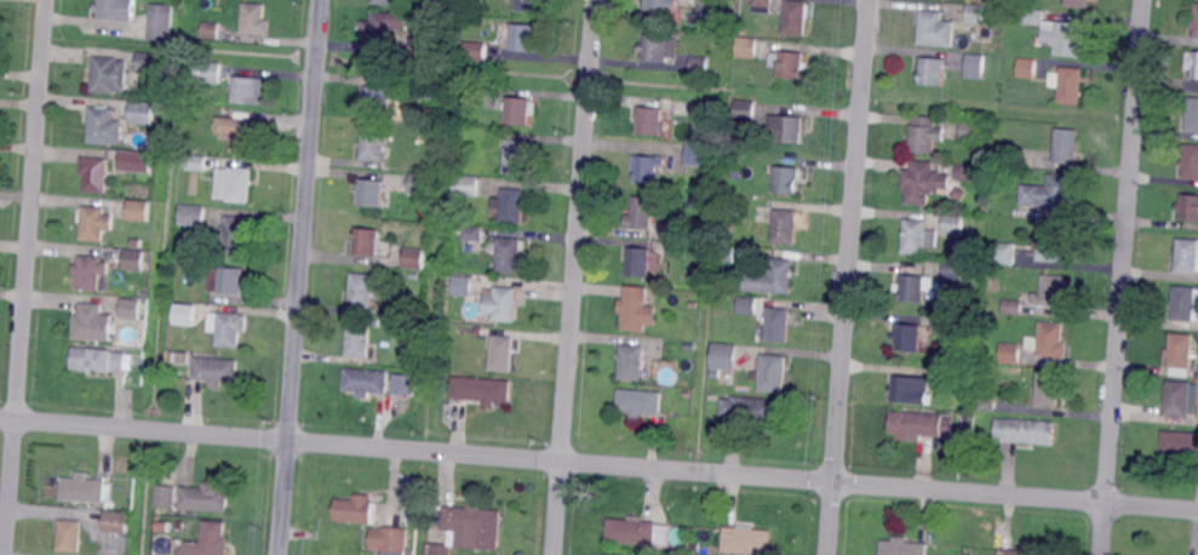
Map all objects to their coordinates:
building: (388, 1)
building: (1077, 4)
building: (529, 5)
building: (763, 6)
building: (709, 7)
building: (116, 10)
building: (660, 10)
building: (976, 15)
building: (797, 17)
building: (1033, 17)
building: (254, 19)
building: (1196, 22)
building: (161, 23)
building: (938, 29)
building: (210, 30)
building: (380, 34)
building: (1065, 38)
building: (526, 39)
building: (426, 47)
building: (661, 48)
building: (749, 50)
building: (475, 51)
building: (1193, 62)
building: (701, 64)
building: (149, 65)
building: (793, 65)
building: (976, 65)
building: (1028, 68)
building: (934, 71)
building: (208, 73)
building: (110, 75)
building: (1072, 85)
building: (247, 90)
building: (426, 91)
building: (380, 99)
building: (521, 109)
building: (746, 111)
building: (142, 113)
building: (1193, 115)
building: (652, 121)
building: (104, 127)
building: (791, 127)
building: (739, 131)
building: (971, 131)
building: (987, 131)
building: (242, 133)
building: (928, 133)
building: (374, 143)
building: (1067, 147)
building: (699, 154)
building: (518, 156)
building: (1025, 160)
building: (1191, 161)
building: (142, 162)
building: (195, 162)
building: (649, 168)
building: (968, 173)
building: (94, 176)
building: (790, 179)
building: (923, 183)
building: (420, 184)
building: (234, 185)
building: (468, 187)
building: (373, 191)
building: (959, 194)
building: (1053, 194)
building: (515, 206)
building: (1188, 208)
building: (139, 211)
building: (193, 214)
building: (642, 214)
building: (94, 223)
building: (955, 223)
building: (787, 225)
road: (849, 229)
building: (686, 230)
building: (472, 234)
building: (237, 236)
building: (919, 236)
building: (138, 242)
building: (367, 242)
building: (1059, 244)
building: (678, 248)
building: (511, 253)
building: (727, 253)
building: (1004, 254)
building: (1188, 258)
building: (414, 259)
building: (134, 261)
building: (640, 261)
building: (91, 273)
building: (953, 275)
road: (25, 276)
road: (300, 276)
road: (574, 276)
road: (1122, 276)
building: (772, 279)
building: (227, 280)
building: (463, 287)
building: (915, 287)
building: (363, 290)
building: (1056, 292)
building: (504, 303)
building: (694, 304)
building: (749, 305)
building: (1185, 305)
building: (637, 308)
building: (1013, 308)
building: (131, 309)
building: (184, 313)
building: (956, 320)
building: (94, 325)
building: (780, 325)
building: (228, 328)
building: (417, 334)
building: (907, 338)
building: (360, 339)
building: (1050, 341)
building: (689, 347)
building: (503, 353)
building: (1009, 353)
building: (1181, 353)
building: (724, 356)
building: (98, 360)
building: (632, 362)
building: (217, 372)
building: (774, 373)
building: (948, 379)
building: (367, 384)
building: (405, 384)
building: (482, 389)
building: (1049, 389)
building: (911, 390)
building: (1179, 397)
building: (640, 402)
building: (986, 405)
building: (752, 408)
building: (922, 425)
building: (1026, 431)
building: (1180, 442)
road: (598, 463)
road: (829, 479)
building: (86, 490)
building: (166, 497)
building: (205, 499)
building: (356, 510)
building: (116, 522)
building: (466, 527)
road: (826, 527)
building: (636, 532)
building: (69, 537)
building: (211, 540)
building: (389, 540)
building: (747, 542)
building: (693, 548)
building: (901, 548)
building: (1020, 551)
building: (613, 554)

